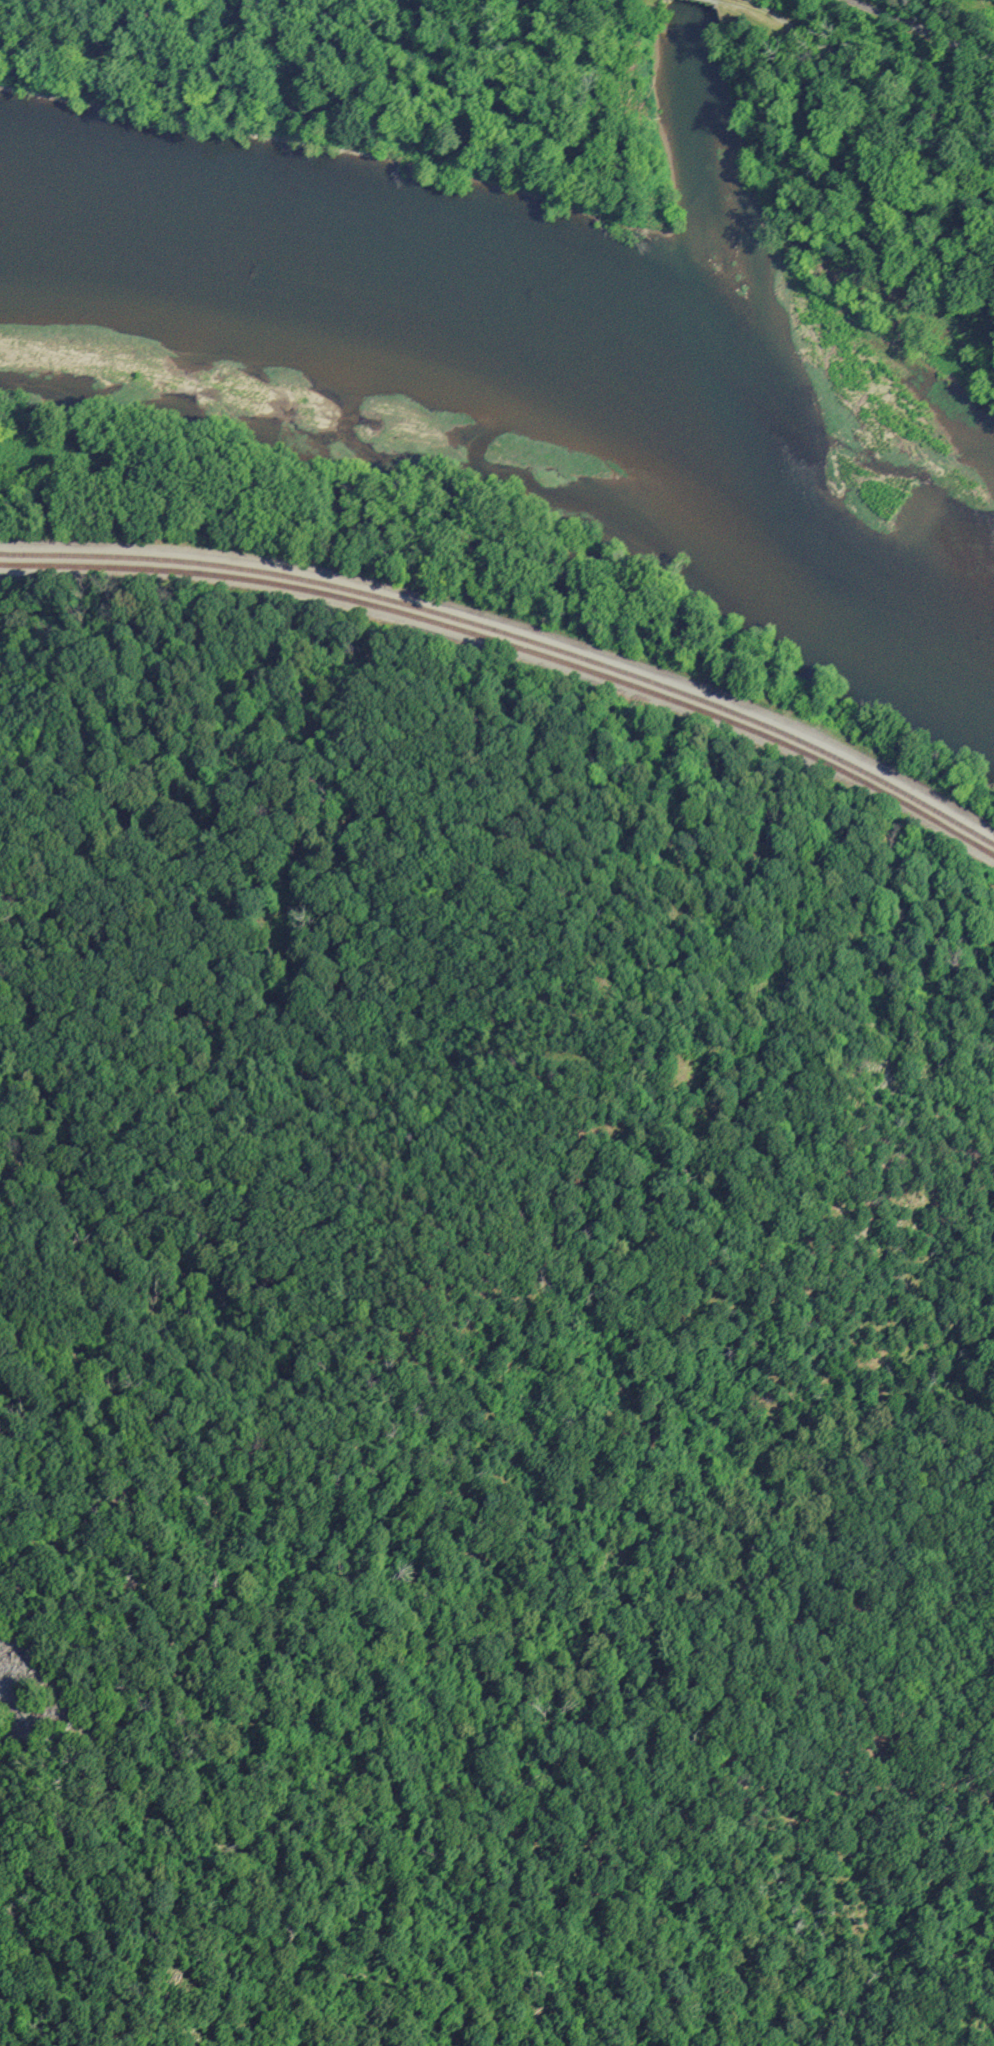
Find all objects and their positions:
road: (118, 14)
road: (922, 29)
park: (933, 30)
road: (865, 70)
river: (705, 128)
river: (544, 335)
river: (728, 354)
road: (514, 628)
railway: (515, 636)
railway: (515, 645)

